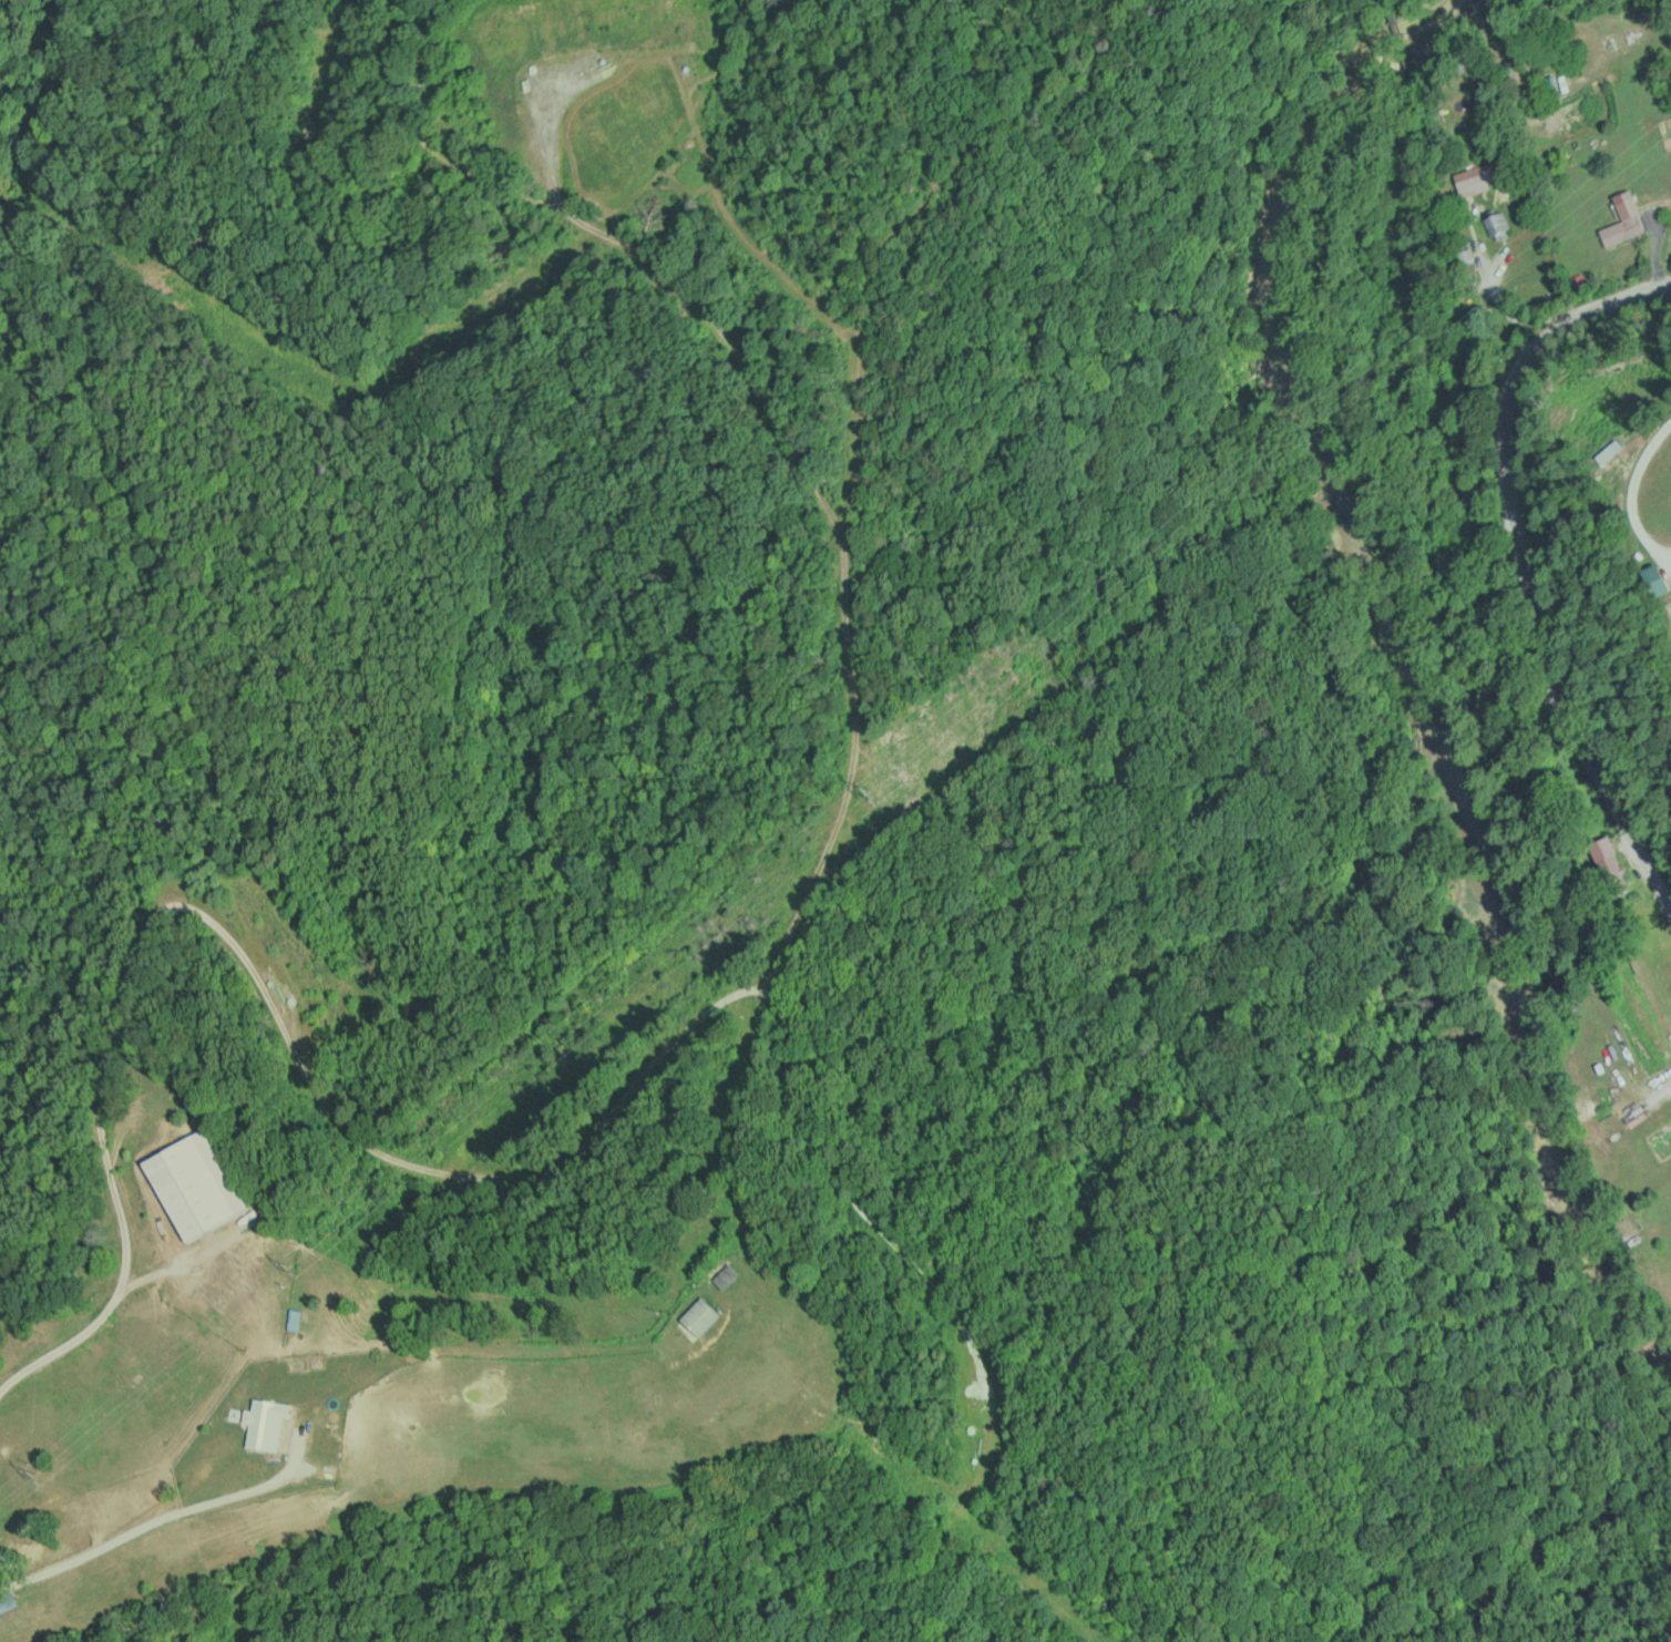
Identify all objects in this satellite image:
building: (1632, 224)
road: (1517, 560)
power tower: (875, 791)
road: (150, 1024)
building: (194, 1184)
building: (1660, 1266)
power tower: (294, 1273)
building: (725, 1275)
building: (699, 1315)
building: (293, 1320)
building: (265, 1423)
road: (154, 1469)
power tower: (39, 1481)
building: (6, 1600)

